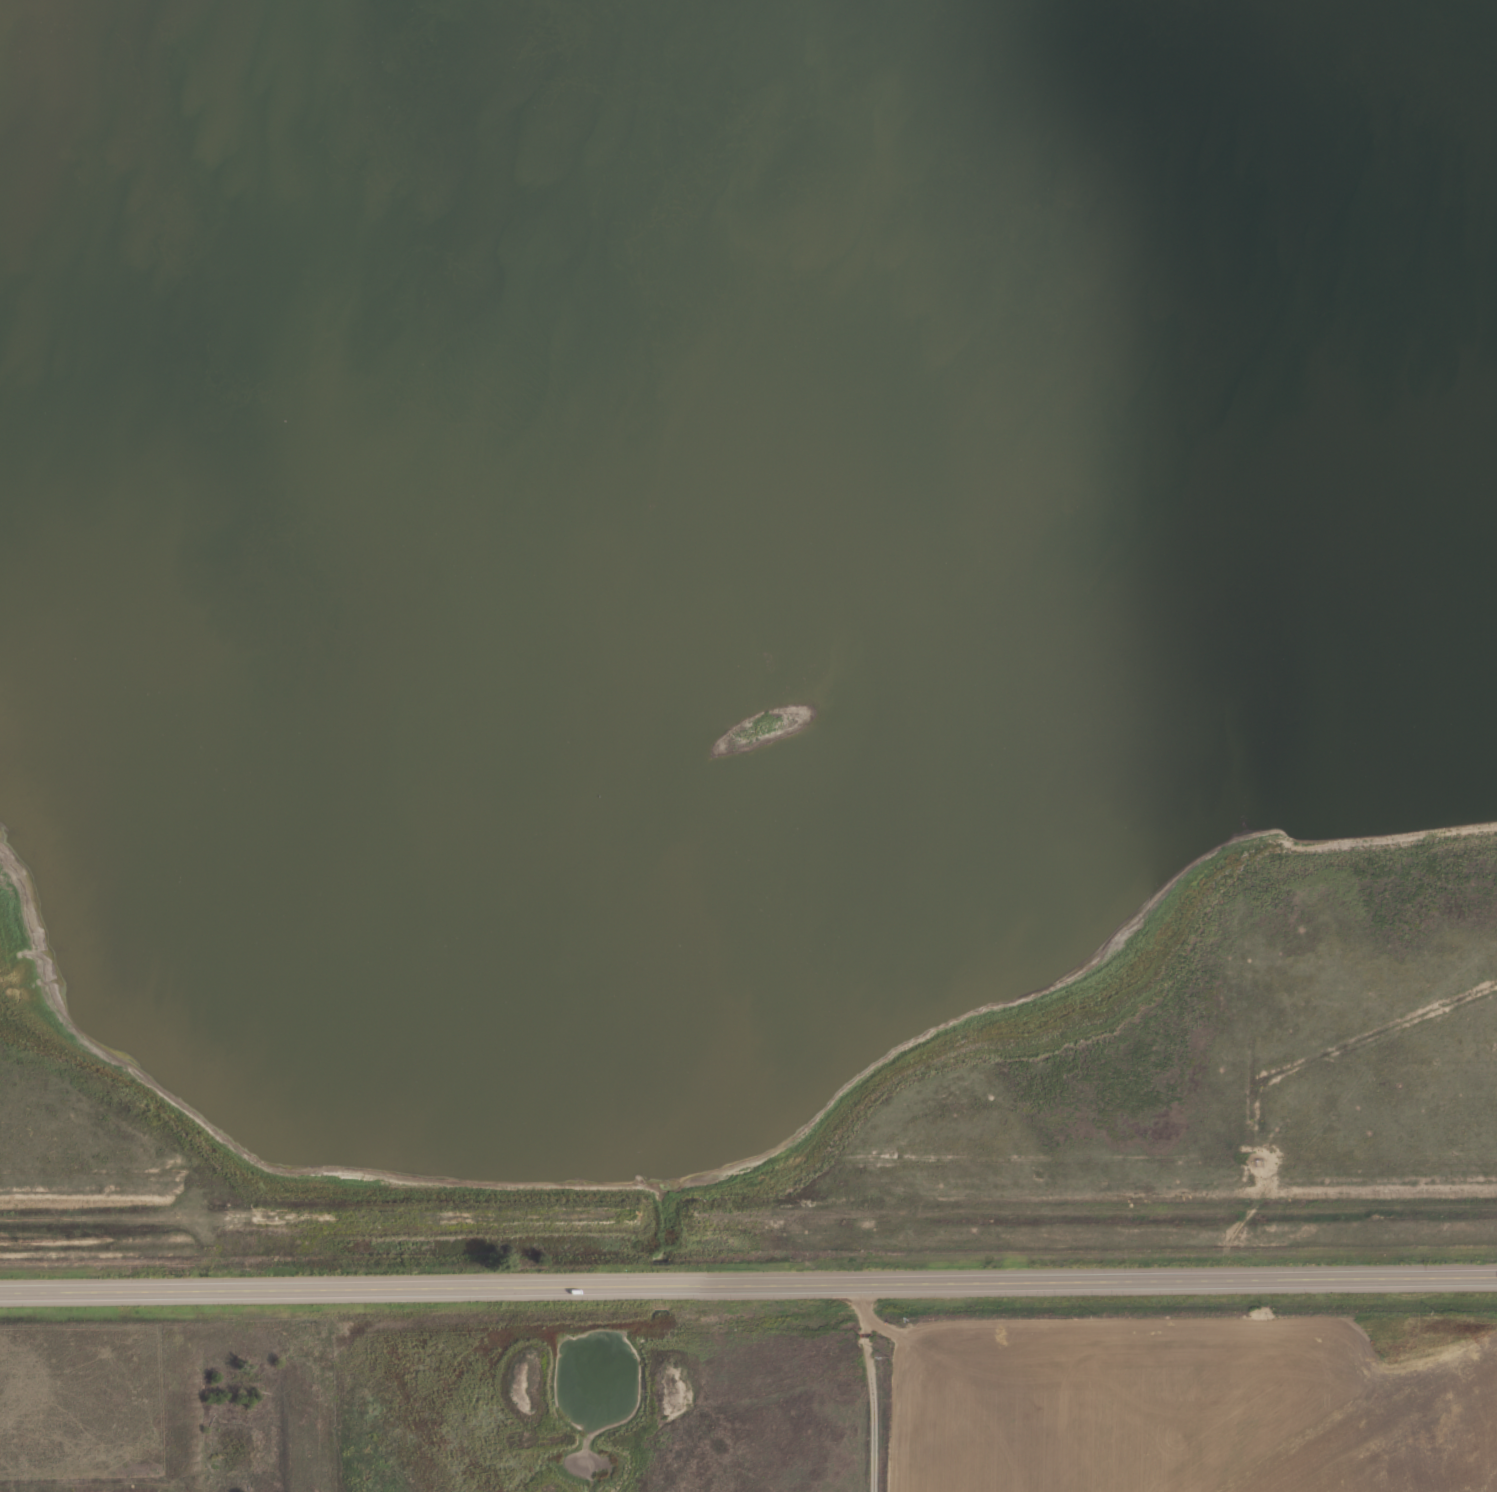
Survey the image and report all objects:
road: (748, 1285)

